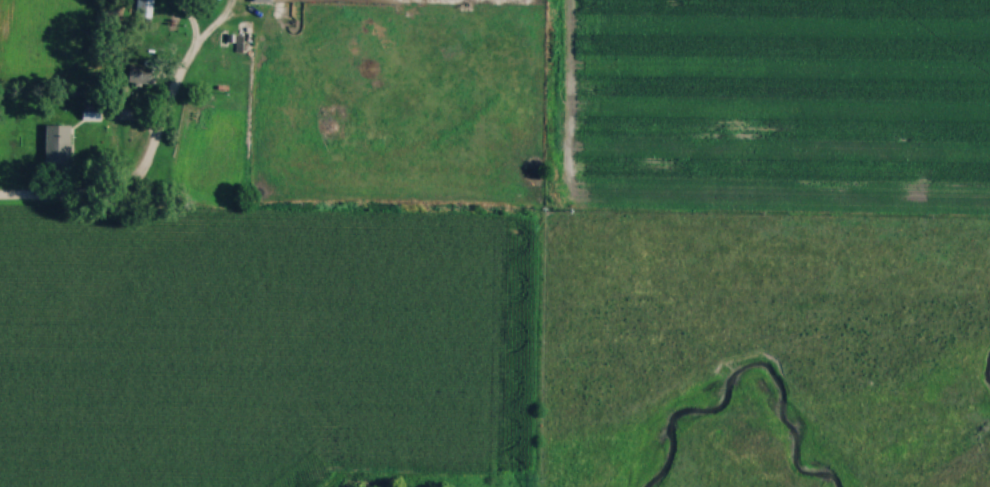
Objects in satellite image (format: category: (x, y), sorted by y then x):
building: (264, 0)
road: (507, 0)
building: (145, 9)
road: (185, 22)
road: (212, 25)
building: (143, 73)
building: (92, 113)
building: (59, 146)
road: (133, 174)

